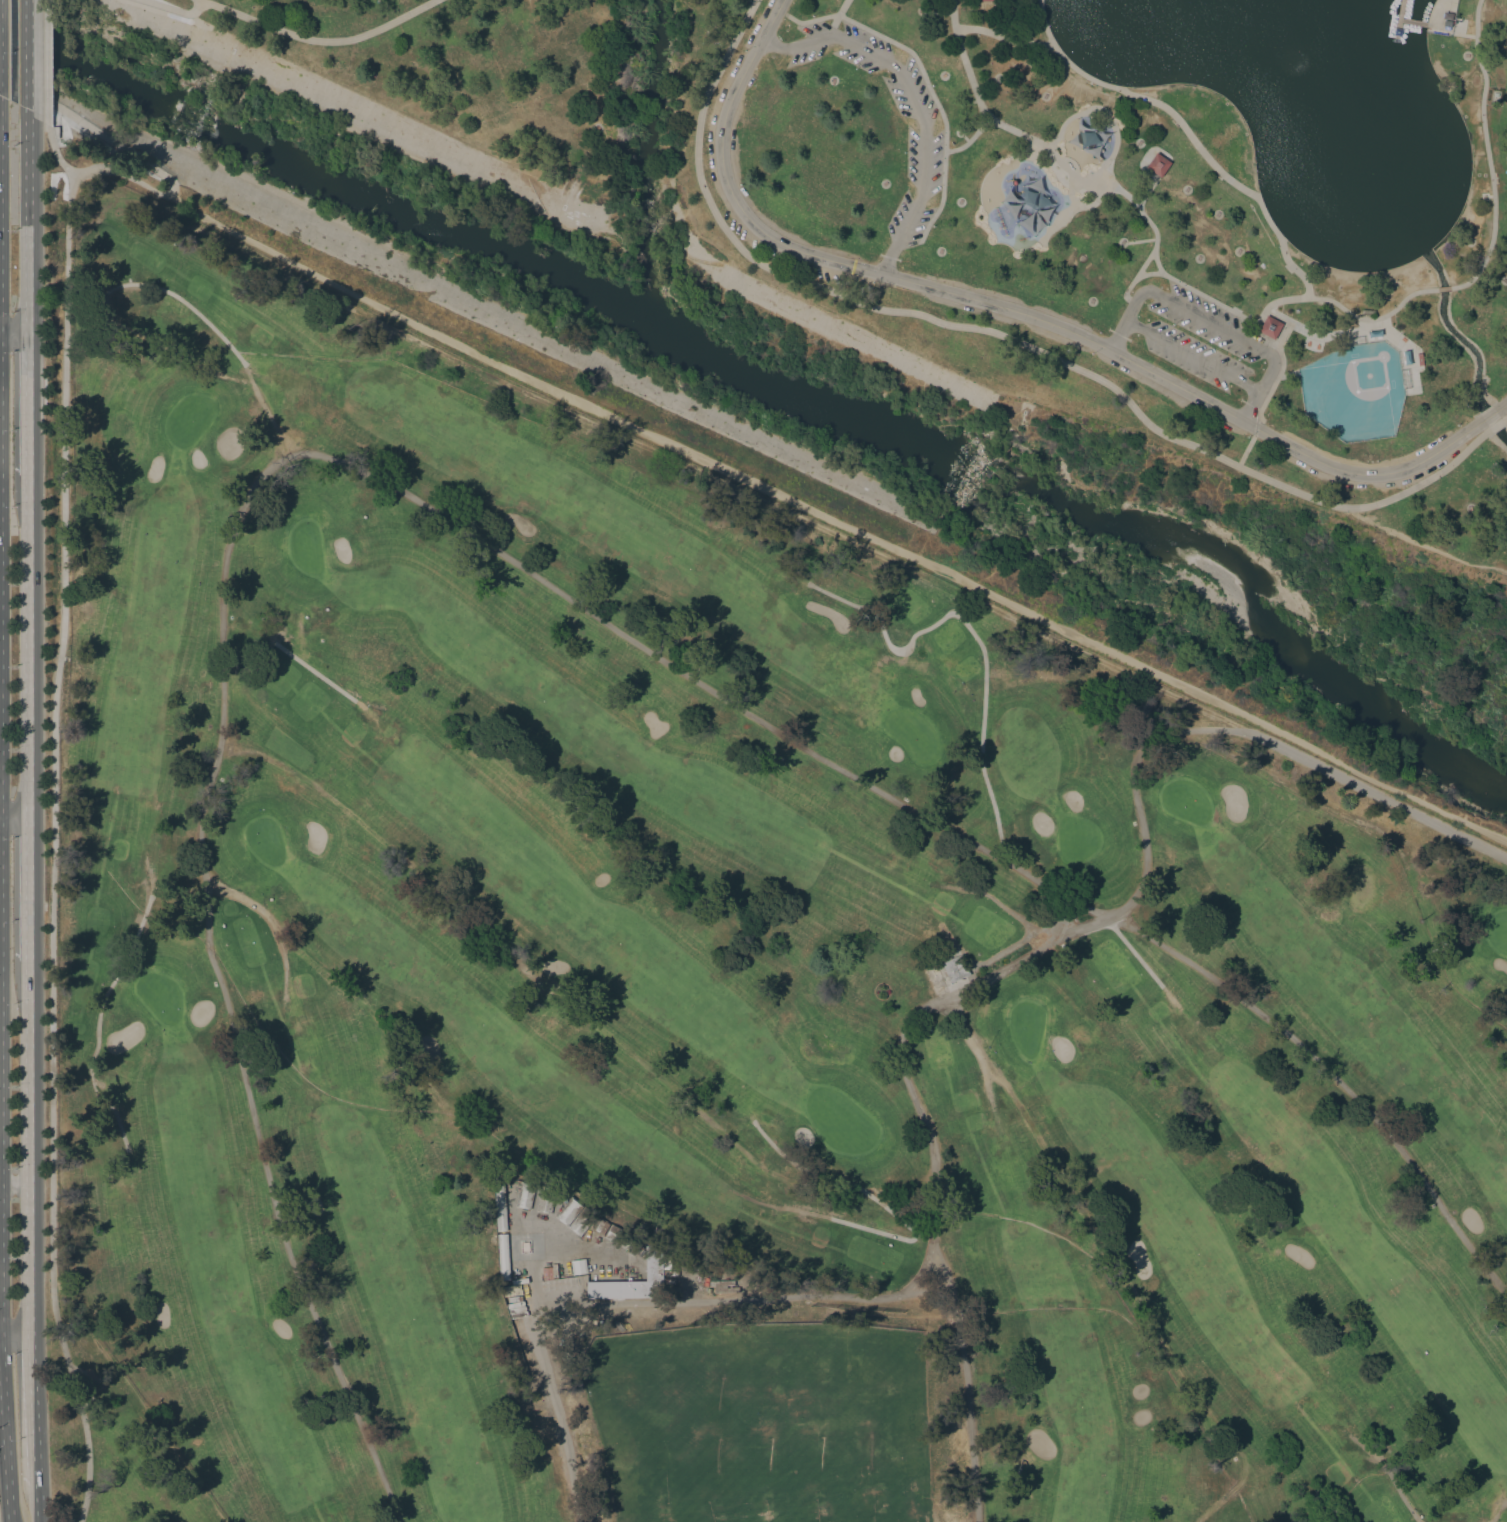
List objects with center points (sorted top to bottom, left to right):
building: (983, 0)
road: (841, 6)
road: (174, 9)
pier: (1400, 16)
building: (1447, 16)
pier: (1412, 21)
road: (1003, 35)
road: (318, 40)
road: (26, 55)
road: (47, 62)
road: (922, 75)
road: (973, 87)
road: (916, 99)
road: (1186, 131)
road: (968, 139)
parking lot: (923, 150)
road: (1487, 153)
building: (1157, 163)
road: (162, 174)
road: (1146, 189)
park: (1054, 206)
road: (27, 222)
road: (1145, 263)
road: (1133, 279)
road: (1191, 287)
road: (1443, 288)
road: (181, 302)
road: (1013, 310)
road: (1373, 318)
road: (1208, 323)
building: (1270, 327)
road: (13, 333)
road: (1002, 335)
road: (1118, 335)
parking lot: (1200, 339)
road: (1192, 355)
road: (1282, 357)
river: (766, 387)
park: (1354, 391)
road: (27, 403)
road: (1251, 405)
road: (1501, 406)
road: (1488, 415)
road: (1506, 417)
road: (1497, 424)
road: (1256, 428)
road: (1245, 451)
road: (836, 522)
road: (459, 528)
road: (1427, 546)
road: (976, 641)
road: (27, 643)
road: (291, 654)
park: (753, 761)
road: (14, 813)
road: (52, 849)
road: (28, 887)
road: (265, 915)
road: (1021, 920)
road: (1066, 925)
park: (1498, 930)
road: (1037, 951)
road: (1133, 952)
park: (712, 956)
road: (988, 959)
building: (955, 968)
road: (107, 987)
road: (975, 1049)
road: (28, 1072)
road: (983, 1079)
road: (839, 1180)
road: (14, 1184)
building: (524, 1196)
building: (542, 1201)
road: (875, 1230)
building: (525, 1246)
building: (501, 1256)
road: (28, 1260)
building: (577, 1266)
building: (632, 1280)
road: (14, 1336)
road: (551, 1395)
road: (32, 1410)
park: (770, 1424)
park: (108, 1437)
road: (4, 1439)
road: (1397, 1489)
road: (36, 1503)
road: (1490, 1515)

